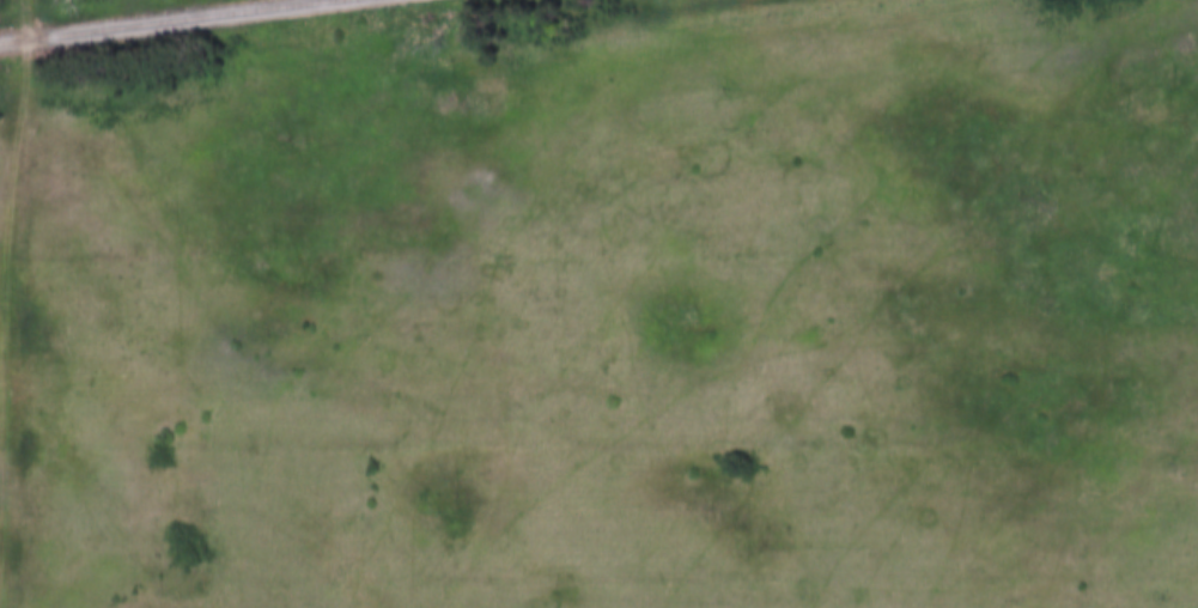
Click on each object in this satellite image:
railway: (159, 20)
road: (19, 304)

